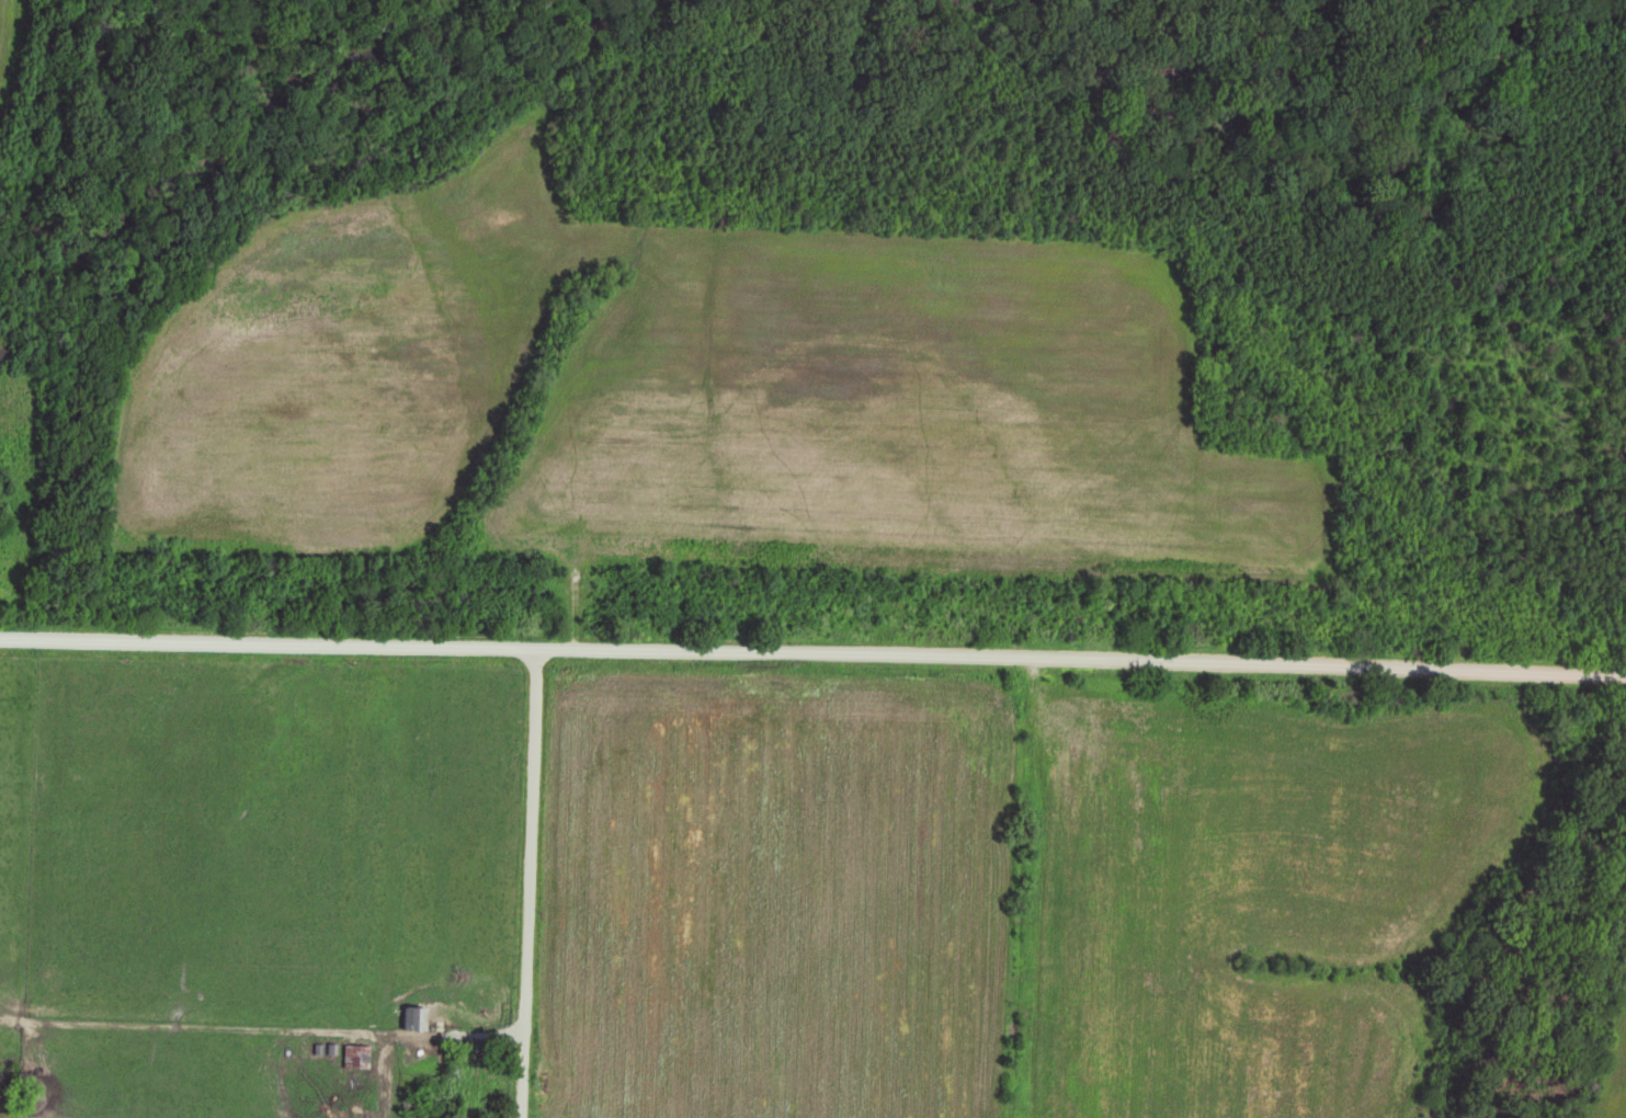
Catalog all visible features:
road: (812, 655)
road: (501, 883)
building: (355, 1056)

